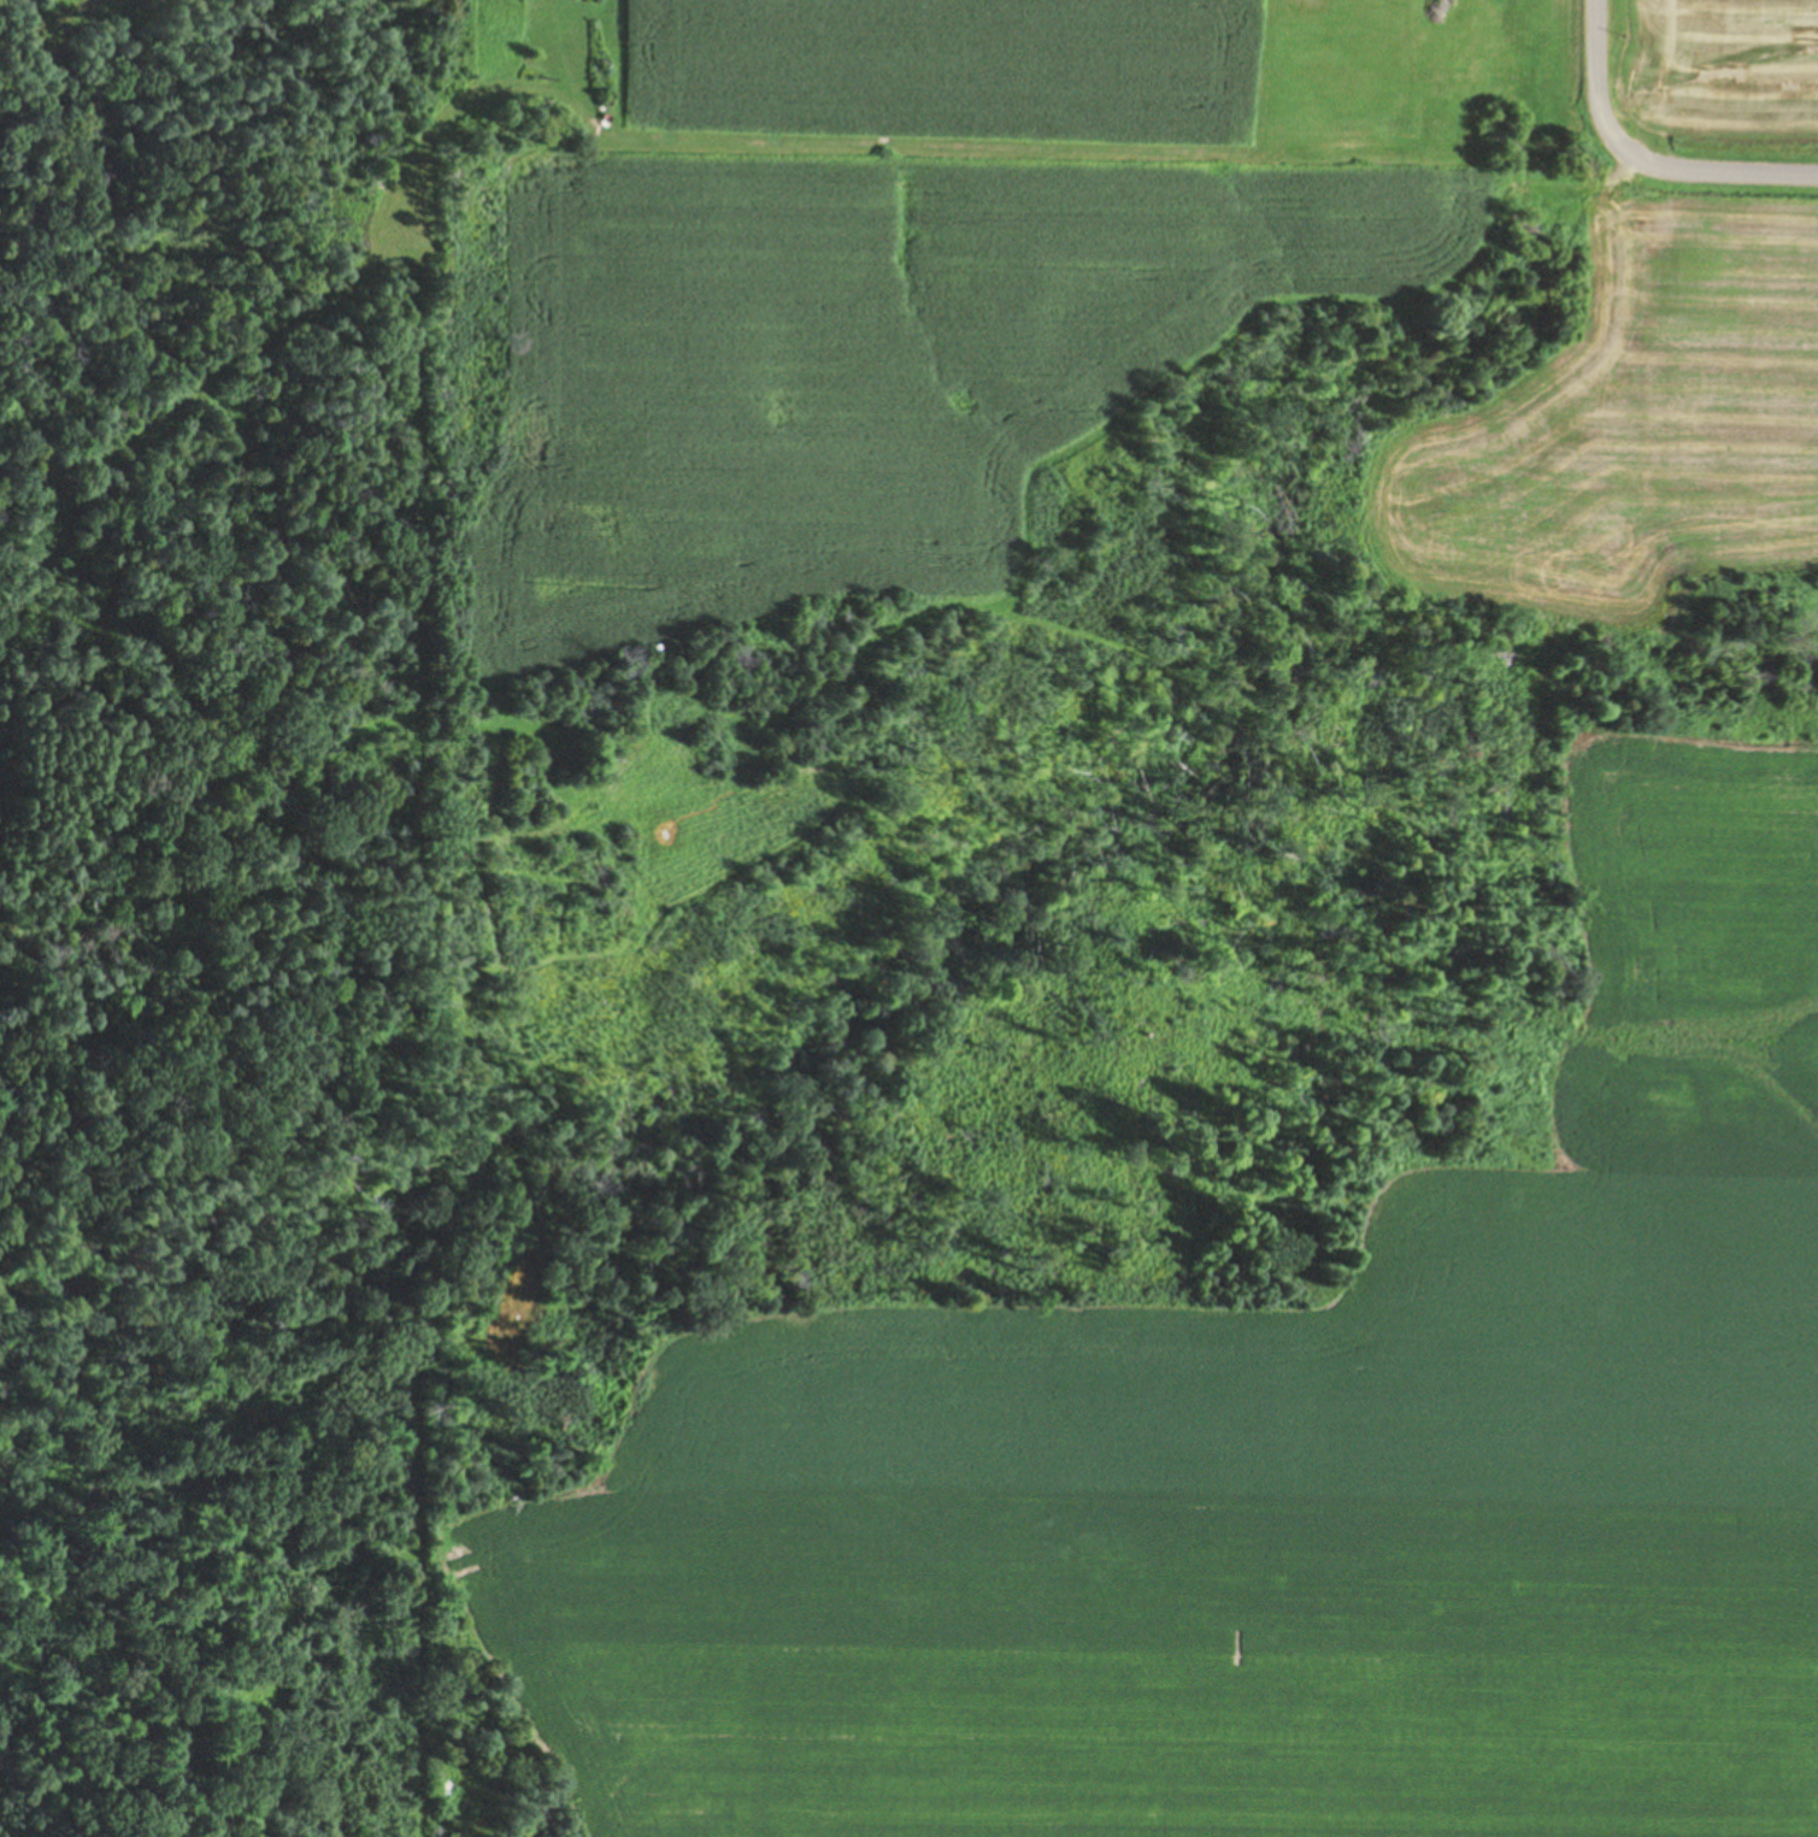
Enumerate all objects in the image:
road: (1625, 76)
road: (1757, 119)

